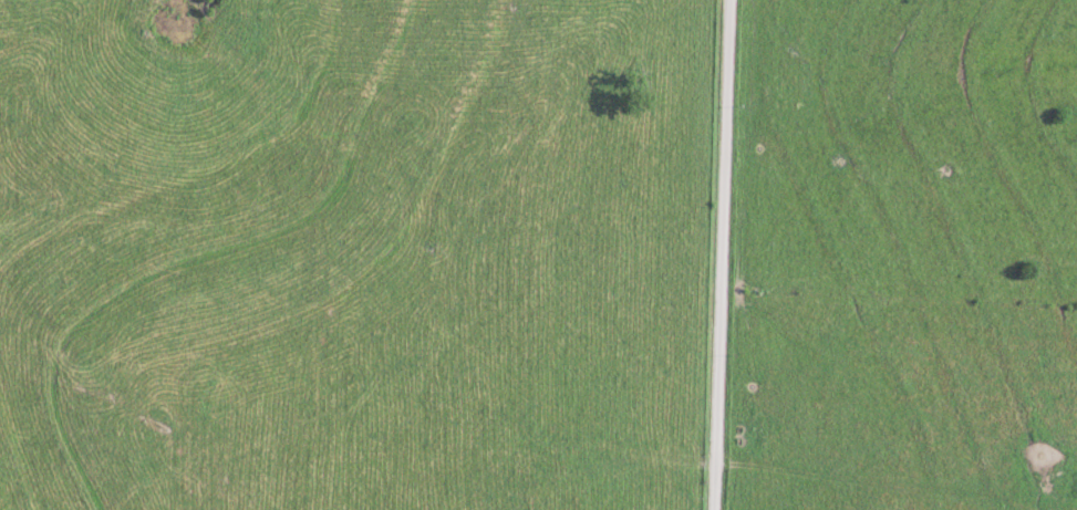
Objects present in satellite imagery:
road: (717, 254)

